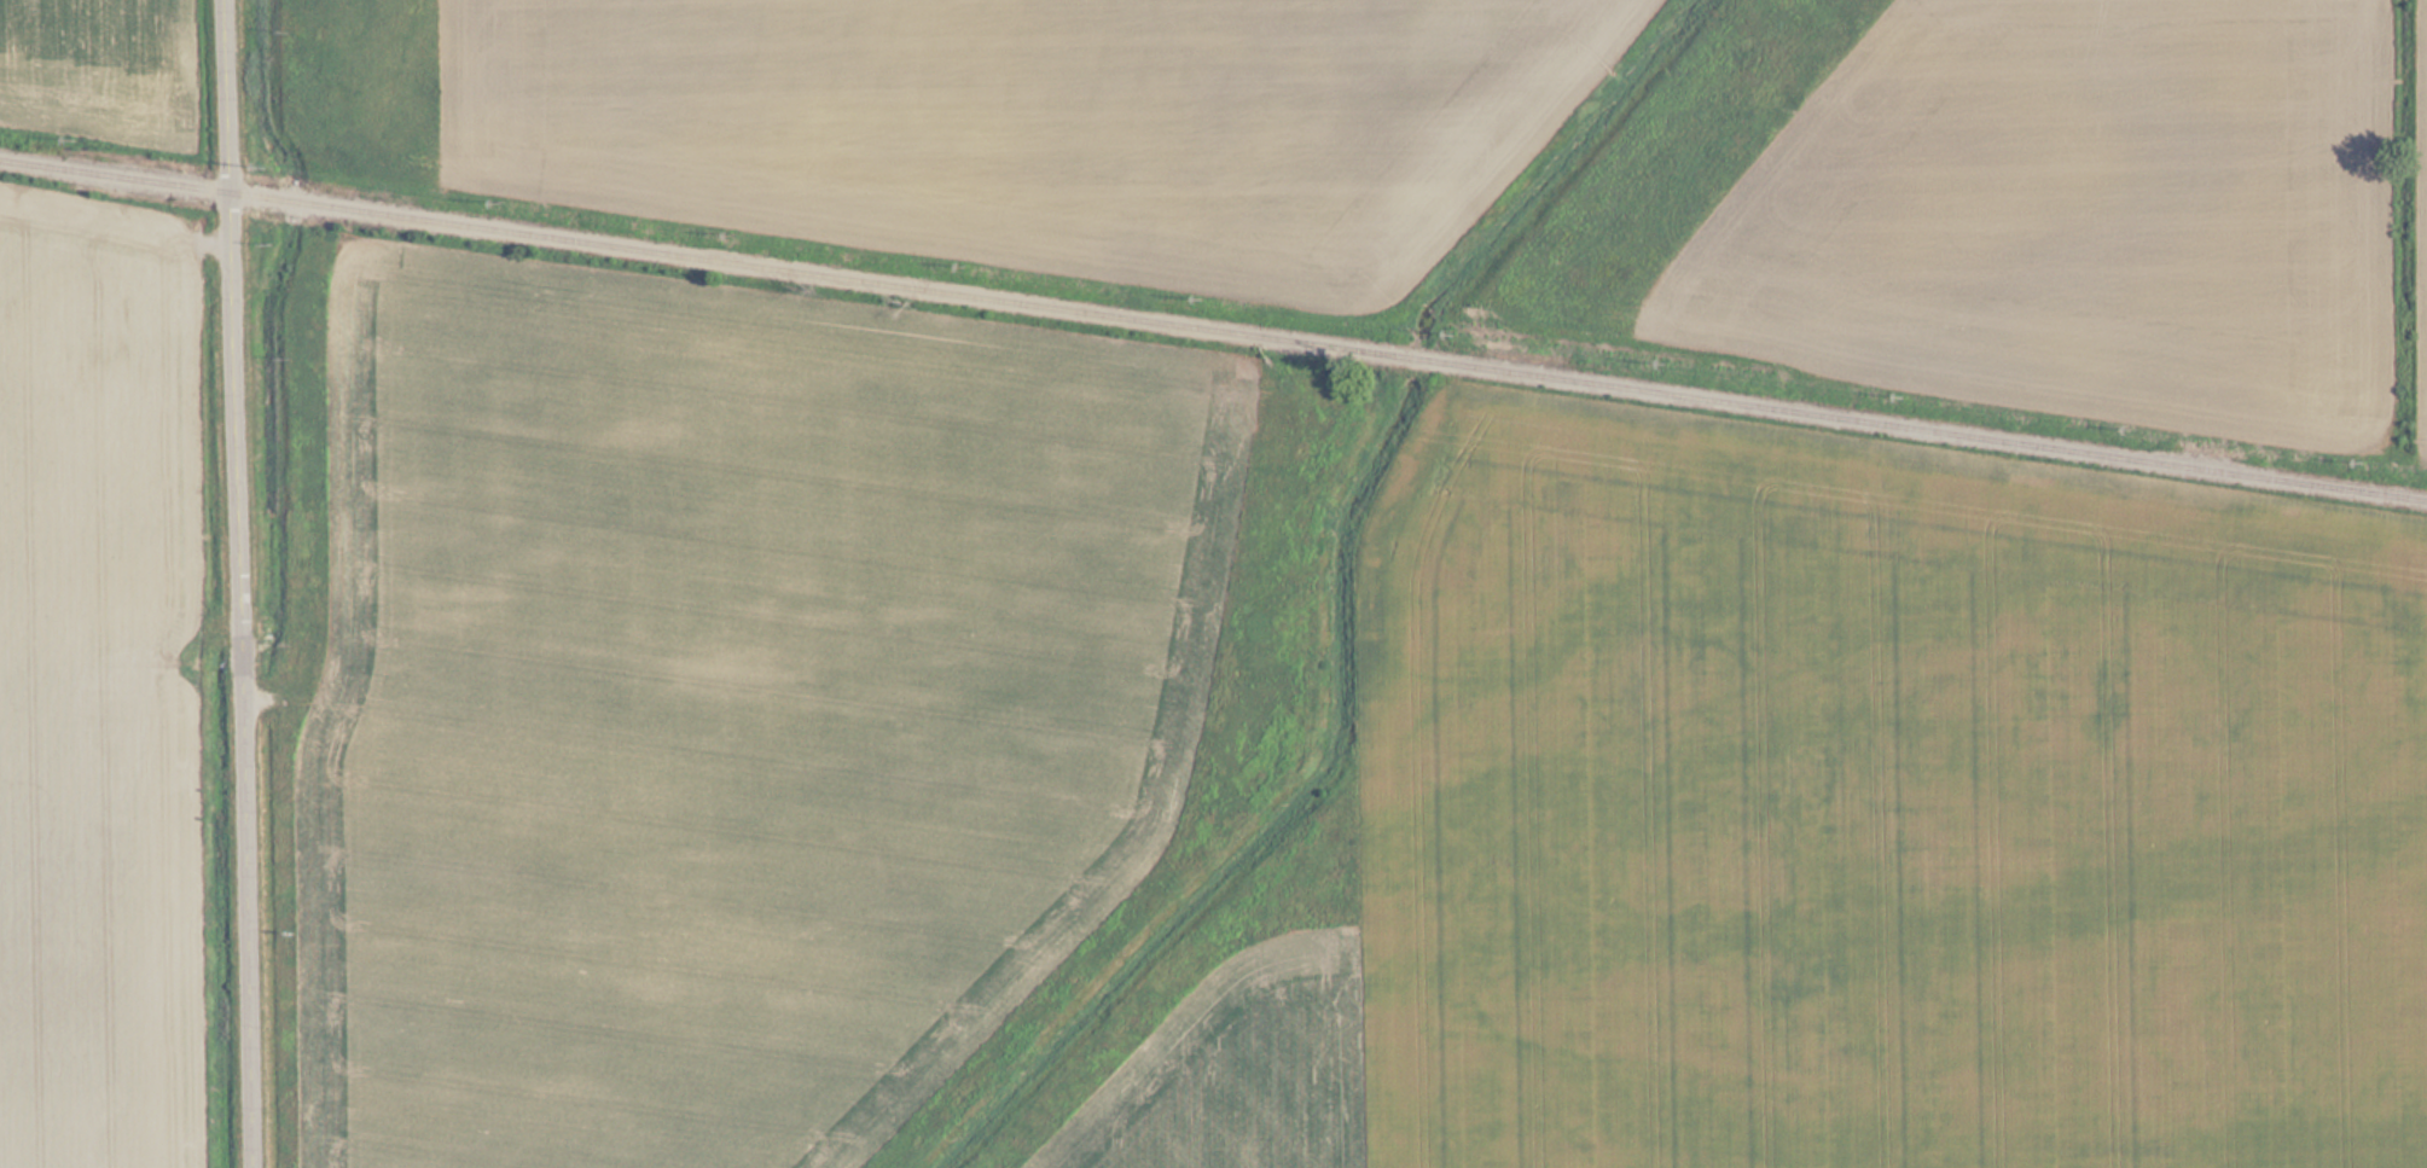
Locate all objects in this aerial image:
railway: (1213, 326)
road: (242, 583)

